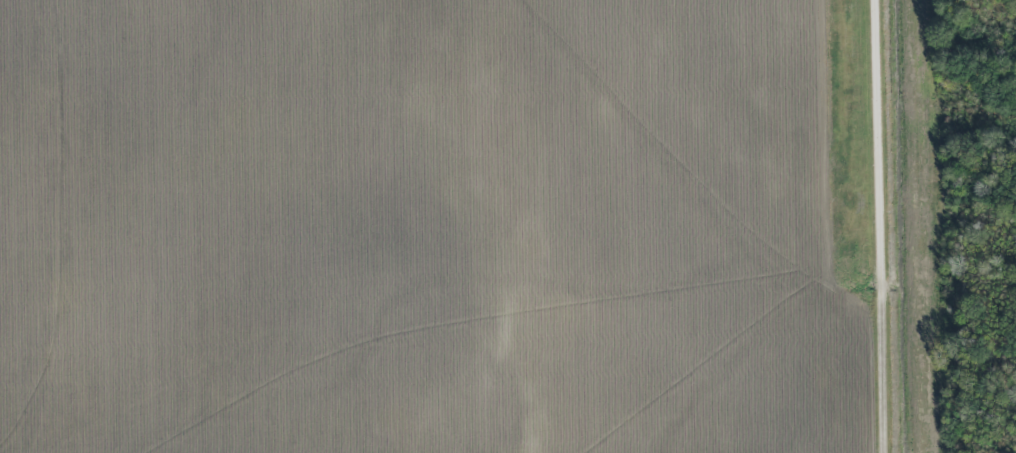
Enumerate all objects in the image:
road: (886, 226)

